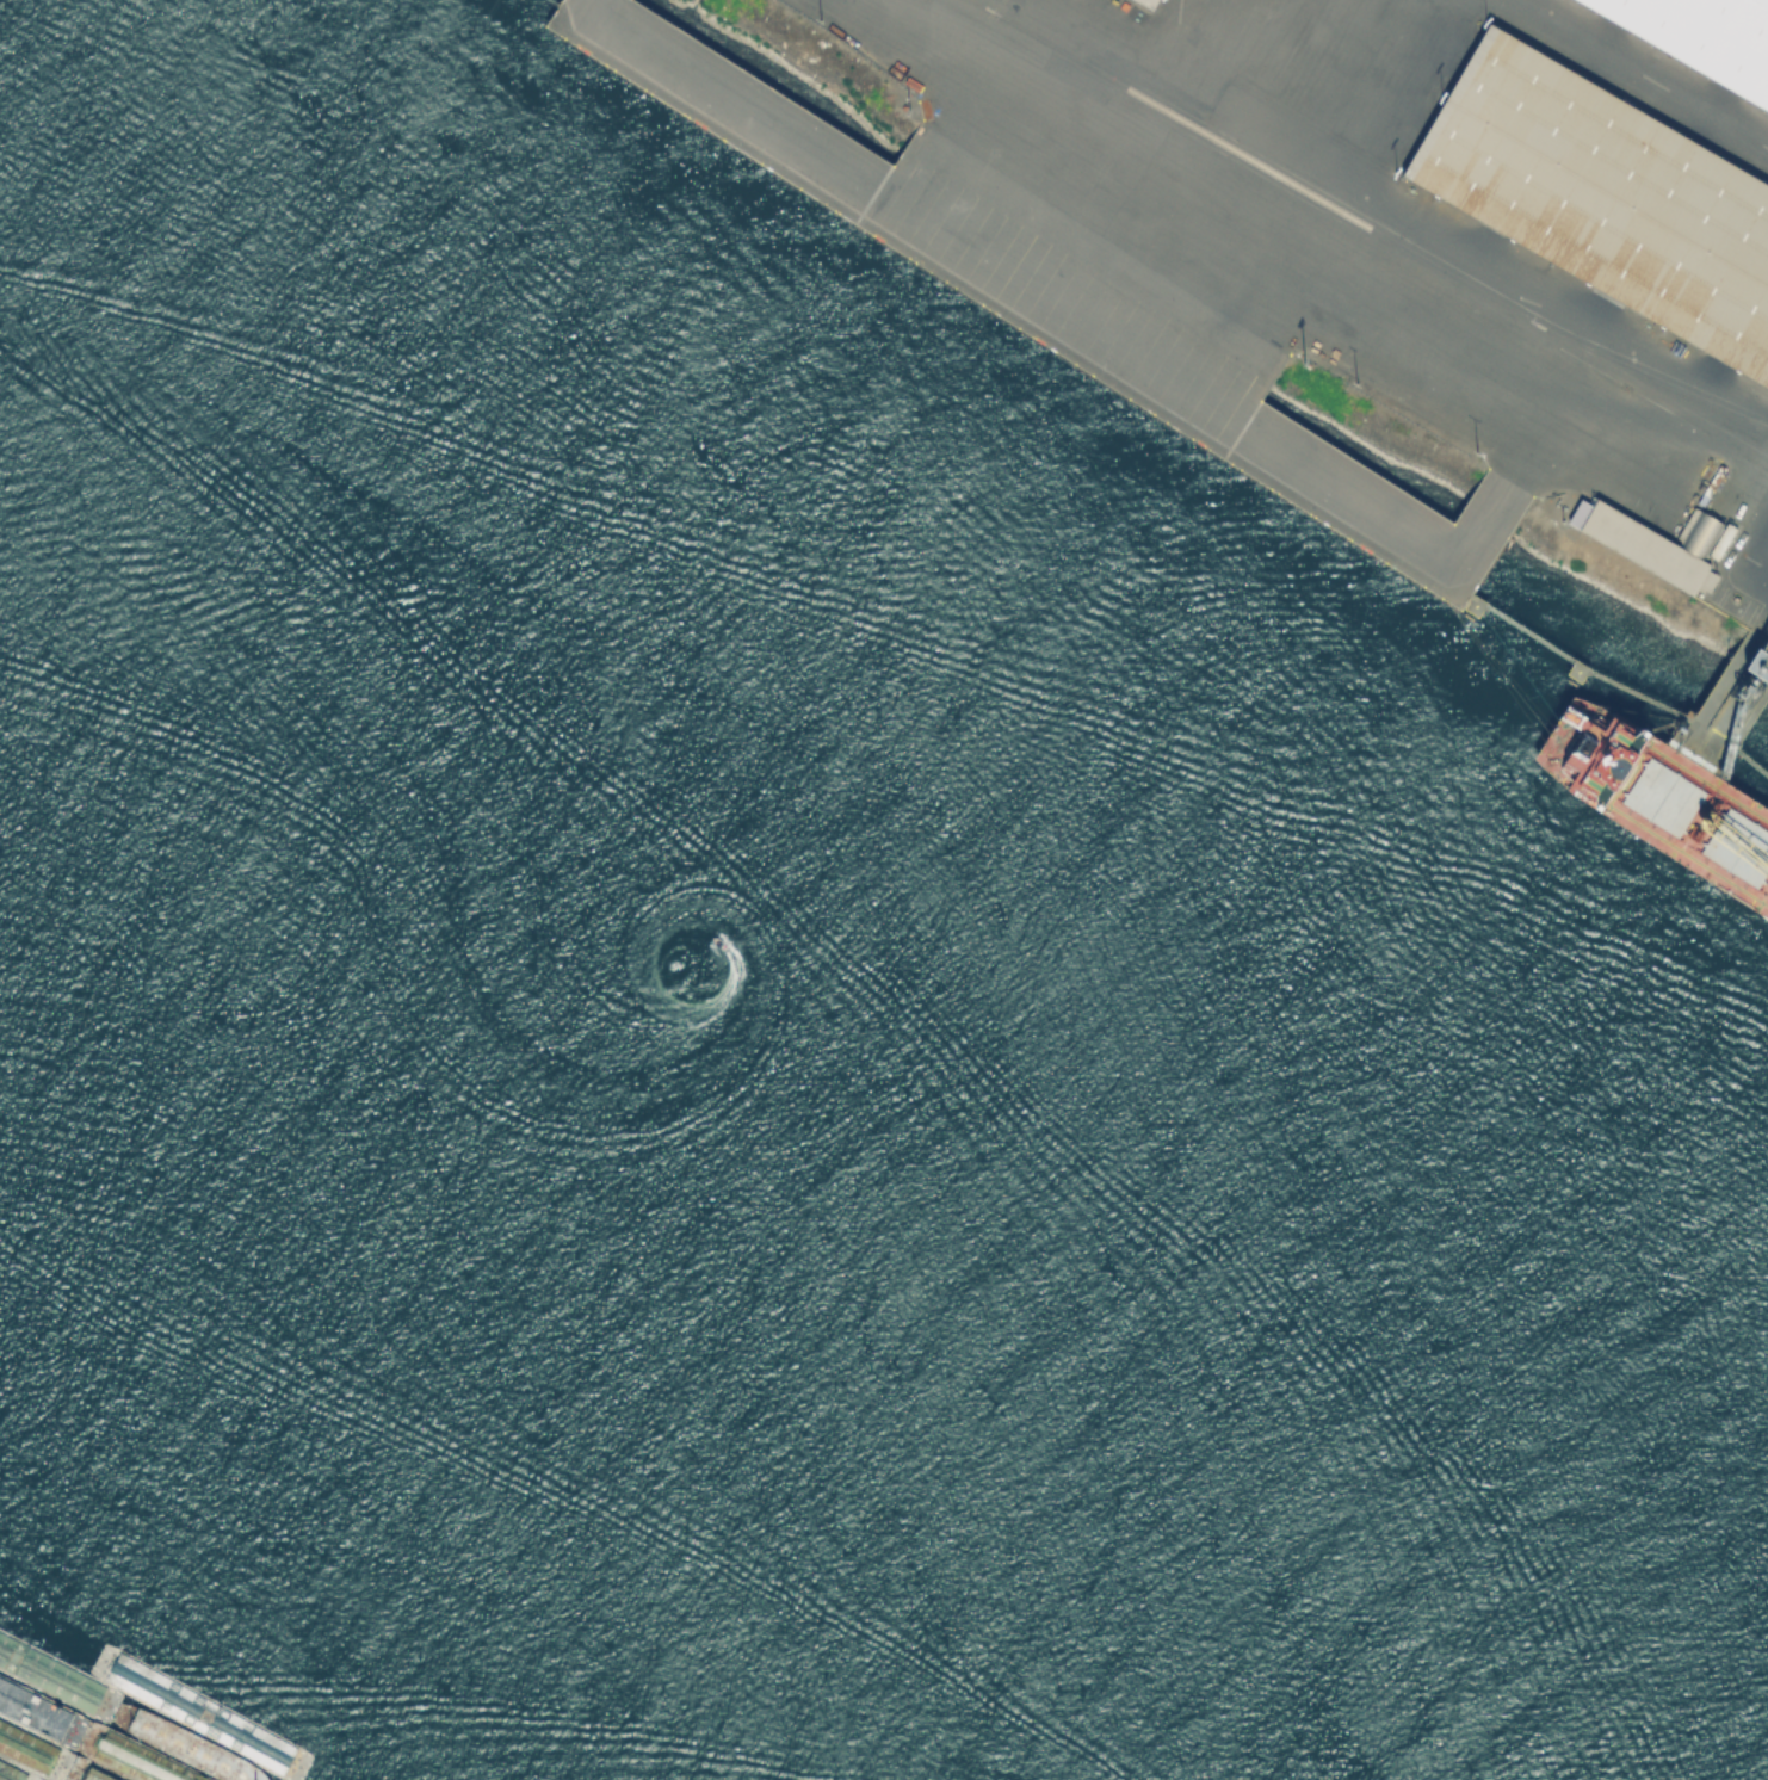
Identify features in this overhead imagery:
building: (1148, 2)
pier: (550, 4)
railway: (982, 6)
building: (1702, 37)
pier: (865, 173)
building: (1606, 197)
railway: (1371, 228)
building: (863, 289)
railway: (1651, 375)
pier: (1265, 421)
building: (1656, 542)
road: (1757, 562)
building: (1757, 663)
pier: (1571, 665)
pier: (1725, 711)
pier: (1752, 767)
river: (647, 1389)

